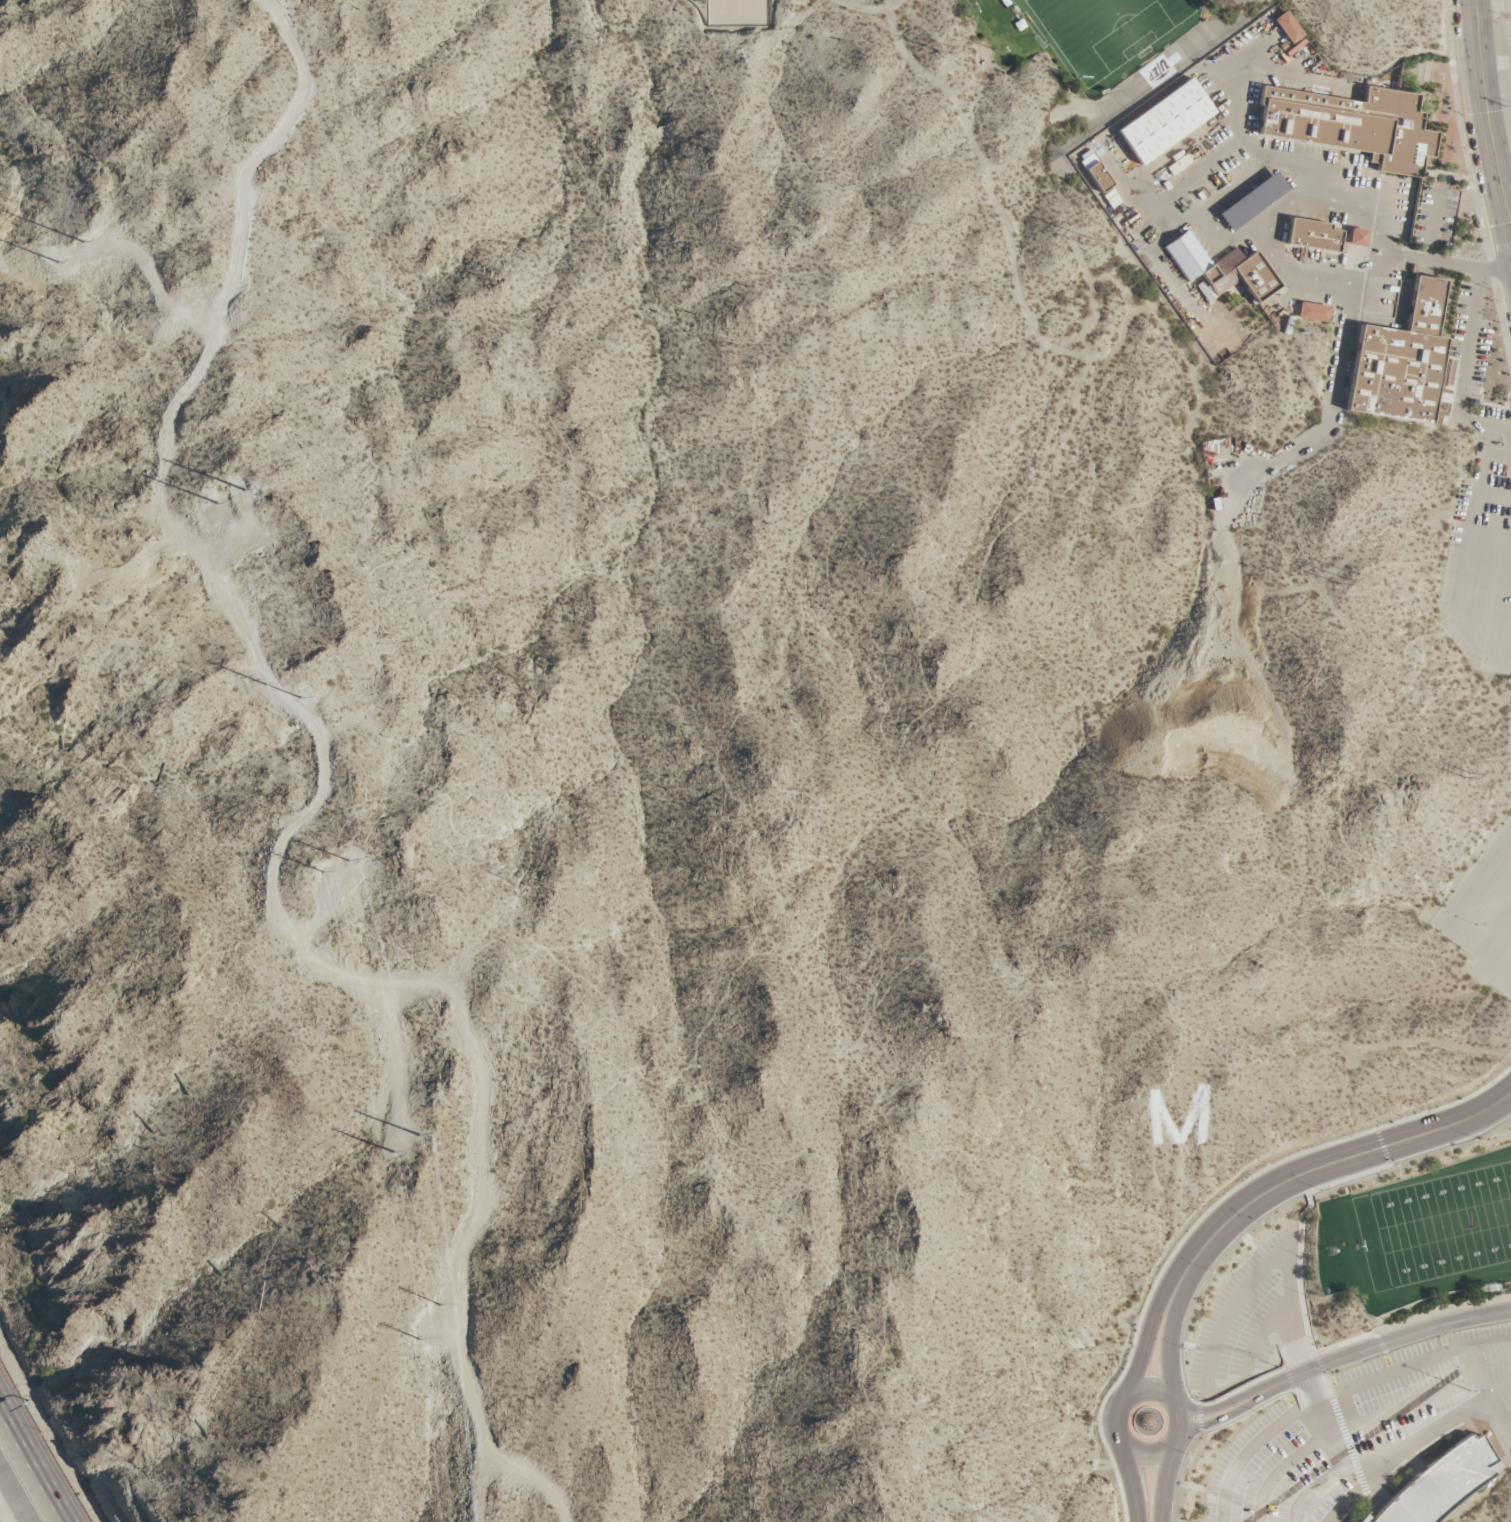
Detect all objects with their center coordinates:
road: (861, 11)
park: (738, 13)
building: (1289, 28)
park: (1106, 30)
power tower: (940, 49)
road: (1237, 85)
road: (1487, 117)
building: (1164, 121)
building: (1352, 126)
building: (1095, 172)
road: (1187, 176)
road: (1272, 211)
road: (1434, 226)
building: (1312, 235)
building: (1356, 237)
power tower: (1085, 243)
power tower: (31, 244)
power tower: (73, 244)
building: (1220, 270)
road: (1020, 295)
building: (1313, 312)
road: (1340, 354)
building: (1400, 360)
road: (1507, 430)
road: (1484, 456)
power tower: (225, 473)
road: (1495, 494)
power tower: (195, 497)
road: (1492, 532)
road: (1489, 572)
power tower: (1344, 578)
road: (1486, 610)
power tower: (241, 659)
power tower: (280, 663)
power tower: (1464, 776)
road: (307, 810)
power tower: (338, 849)
power tower: (301, 871)
road: (1458, 916)
power tower: (423, 1140)
road: (1331, 1163)
power tower: (391, 1191)
park: (1436, 1227)
road: (1300, 1287)
power tower: (438, 1298)
road: (1238, 1301)
parking lot: (1248, 1318)
road: (1180, 1330)
road: (1147, 1331)
road: (1167, 1337)
power tower: (407, 1343)
road: (1374, 1346)
road: (1405, 1366)
road: (1308, 1383)
road: (1327, 1387)
road: (1483, 1388)
road: (1129, 1391)
road: (1431, 1396)
road: (1209, 1409)
road: (1498, 1418)
road: (1324, 1421)
road: (1210, 1422)
parking lot: (1362, 1429)
road: (1428, 1432)
road: (1262, 1438)
road: (1348, 1446)
road: (34, 1460)
road: (1290, 1461)
road: (1368, 1478)
road: (1130, 1481)
road: (1163, 1483)
building: (1439, 1484)
road: (1312, 1491)
road: (1354, 1508)

